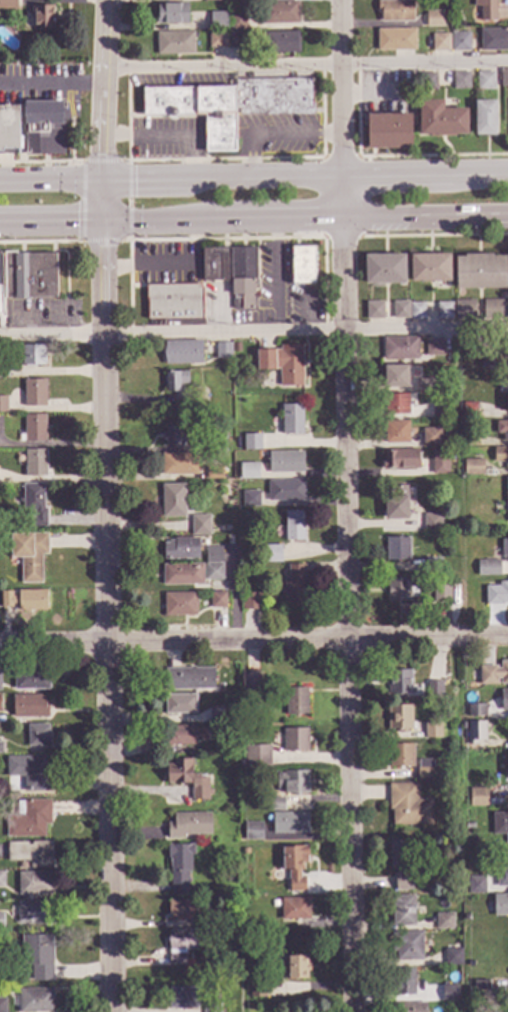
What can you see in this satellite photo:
building: (212, 1)
building: (235, 1)
building: (70, 2)
building: (7, 4)
building: (486, 9)
building: (395, 12)
building: (279, 13)
building: (171, 14)
building: (42, 17)
building: (434, 20)
building: (218, 22)
building: (237, 23)
building: (11, 25)
building: (217, 40)
building: (235, 40)
building: (395, 40)
building: (494, 40)
building: (280, 43)
building: (174, 44)
building: (440, 44)
building: (461, 45)
road: (423, 64)
road: (222, 67)
parking lot: (39, 73)
building: (503, 78)
parking lot: (181, 81)
building: (460, 81)
building: (484, 81)
building: (427, 82)
road: (52, 85)
road: (338, 88)
parking lot: (33, 97)
building: (229, 104)
road: (105, 112)
building: (484, 119)
building: (440, 120)
parking lot: (278, 122)
building: (9, 129)
building: (43, 129)
building: (388, 133)
road: (276, 136)
parking lot: (168, 140)
parking lot: (291, 149)
traffic signals: (104, 156)
road: (92, 161)
road: (169, 176)
road: (423, 176)
traffic signals: (134, 177)
road: (340, 199)
road: (129, 204)
road: (424, 220)
road: (170, 224)
traffic signals: (76, 225)
road: (111, 241)
traffic signals: (104, 246)
building: (302, 265)
building: (0, 269)
building: (384, 270)
building: (431, 270)
building: (480, 272)
building: (232, 273)
building: (28, 275)
road: (104, 279)
building: (173, 303)
building: (399, 310)
building: (464, 310)
building: (495, 310)
building: (374, 311)
building: (444, 311)
building: (416, 312)
road: (253, 331)
building: (434, 348)
building: (507, 348)
building: (400, 349)
building: (222, 351)
building: (183, 353)
building: (32, 355)
building: (488, 362)
building: (283, 364)
building: (4, 370)
building: (396, 378)
building: (423, 385)
building: (177, 387)
building: (34, 393)
building: (507, 396)
building: (3, 404)
building: (395, 405)
building: (469, 411)
building: (291, 420)
building: (33, 428)
building: (502, 430)
building: (396, 432)
building: (173, 437)
building: (430, 438)
building: (471, 441)
building: (251, 443)
building: (217, 444)
building: (501, 456)
building: (401, 460)
building: (285, 462)
building: (34, 463)
building: (439, 463)
building: (179, 464)
building: (473, 468)
building: (248, 471)
building: (214, 473)
building: (286, 490)
building: (506, 496)
building: (250, 499)
building: (173, 501)
building: (396, 504)
building: (34, 505)
building: (431, 523)
building: (200, 526)
building: (293, 526)
building: (181, 549)
building: (397, 549)
building: (504, 549)
building: (271, 554)
building: (29, 555)
building: (212, 556)
building: (432, 566)
building: (487, 568)
building: (213, 573)
building: (182, 575)
building: (294, 587)
building: (398, 591)
building: (441, 594)
building: (496, 594)
building: (24, 600)
building: (217, 601)
building: (250, 602)
building: (179, 604)
road: (347, 616)
road: (253, 638)
road: (106, 673)
building: (494, 675)
building: (0, 679)
building: (189, 679)
building: (30, 680)
building: (250, 684)
building: (398, 684)
building: (434, 690)
building: (504, 701)
building: (295, 702)
building: (0, 704)
building: (179, 704)
building: (29, 707)
building: (475, 710)
building: (219, 716)
building: (399, 719)
building: (462, 725)
building: (432, 731)
building: (475, 733)
building: (37, 735)
building: (183, 736)
building: (295, 740)
building: (0, 748)
building: (257, 756)
building: (400, 756)
building: (507, 767)
building: (424, 770)
building: (29, 773)
building: (187, 779)
building: (292, 783)
building: (477, 798)
building: (276, 805)
building: (408, 806)
building: (28, 820)
building: (290, 823)
building: (500, 825)
building: (188, 826)
building: (468, 826)
building: (252, 831)
building: (245, 852)
building: (31, 854)
building: (400, 864)
building: (294, 866)
building: (179, 868)
building: (501, 877)
building: (2, 880)
building: (35, 884)
building: (476, 885)
building: (275, 903)
building: (500, 906)
building: (294, 909)
building: (181, 911)
building: (402, 911)
building: (33, 913)
building: (465, 918)
building: (210, 920)
building: (1, 922)
building: (444, 922)
building: (180, 945)
building: (406, 946)
building: (38, 956)
building: (452, 958)
building: (473, 966)
building: (296, 968)
building: (249, 979)
building: (403, 982)
building: (256, 990)
building: (480, 990)
building: (449, 994)
building: (182, 998)
building: (34, 1000)
building: (2, 1005)
building: (211, 1008)
building: (409, 1008)

